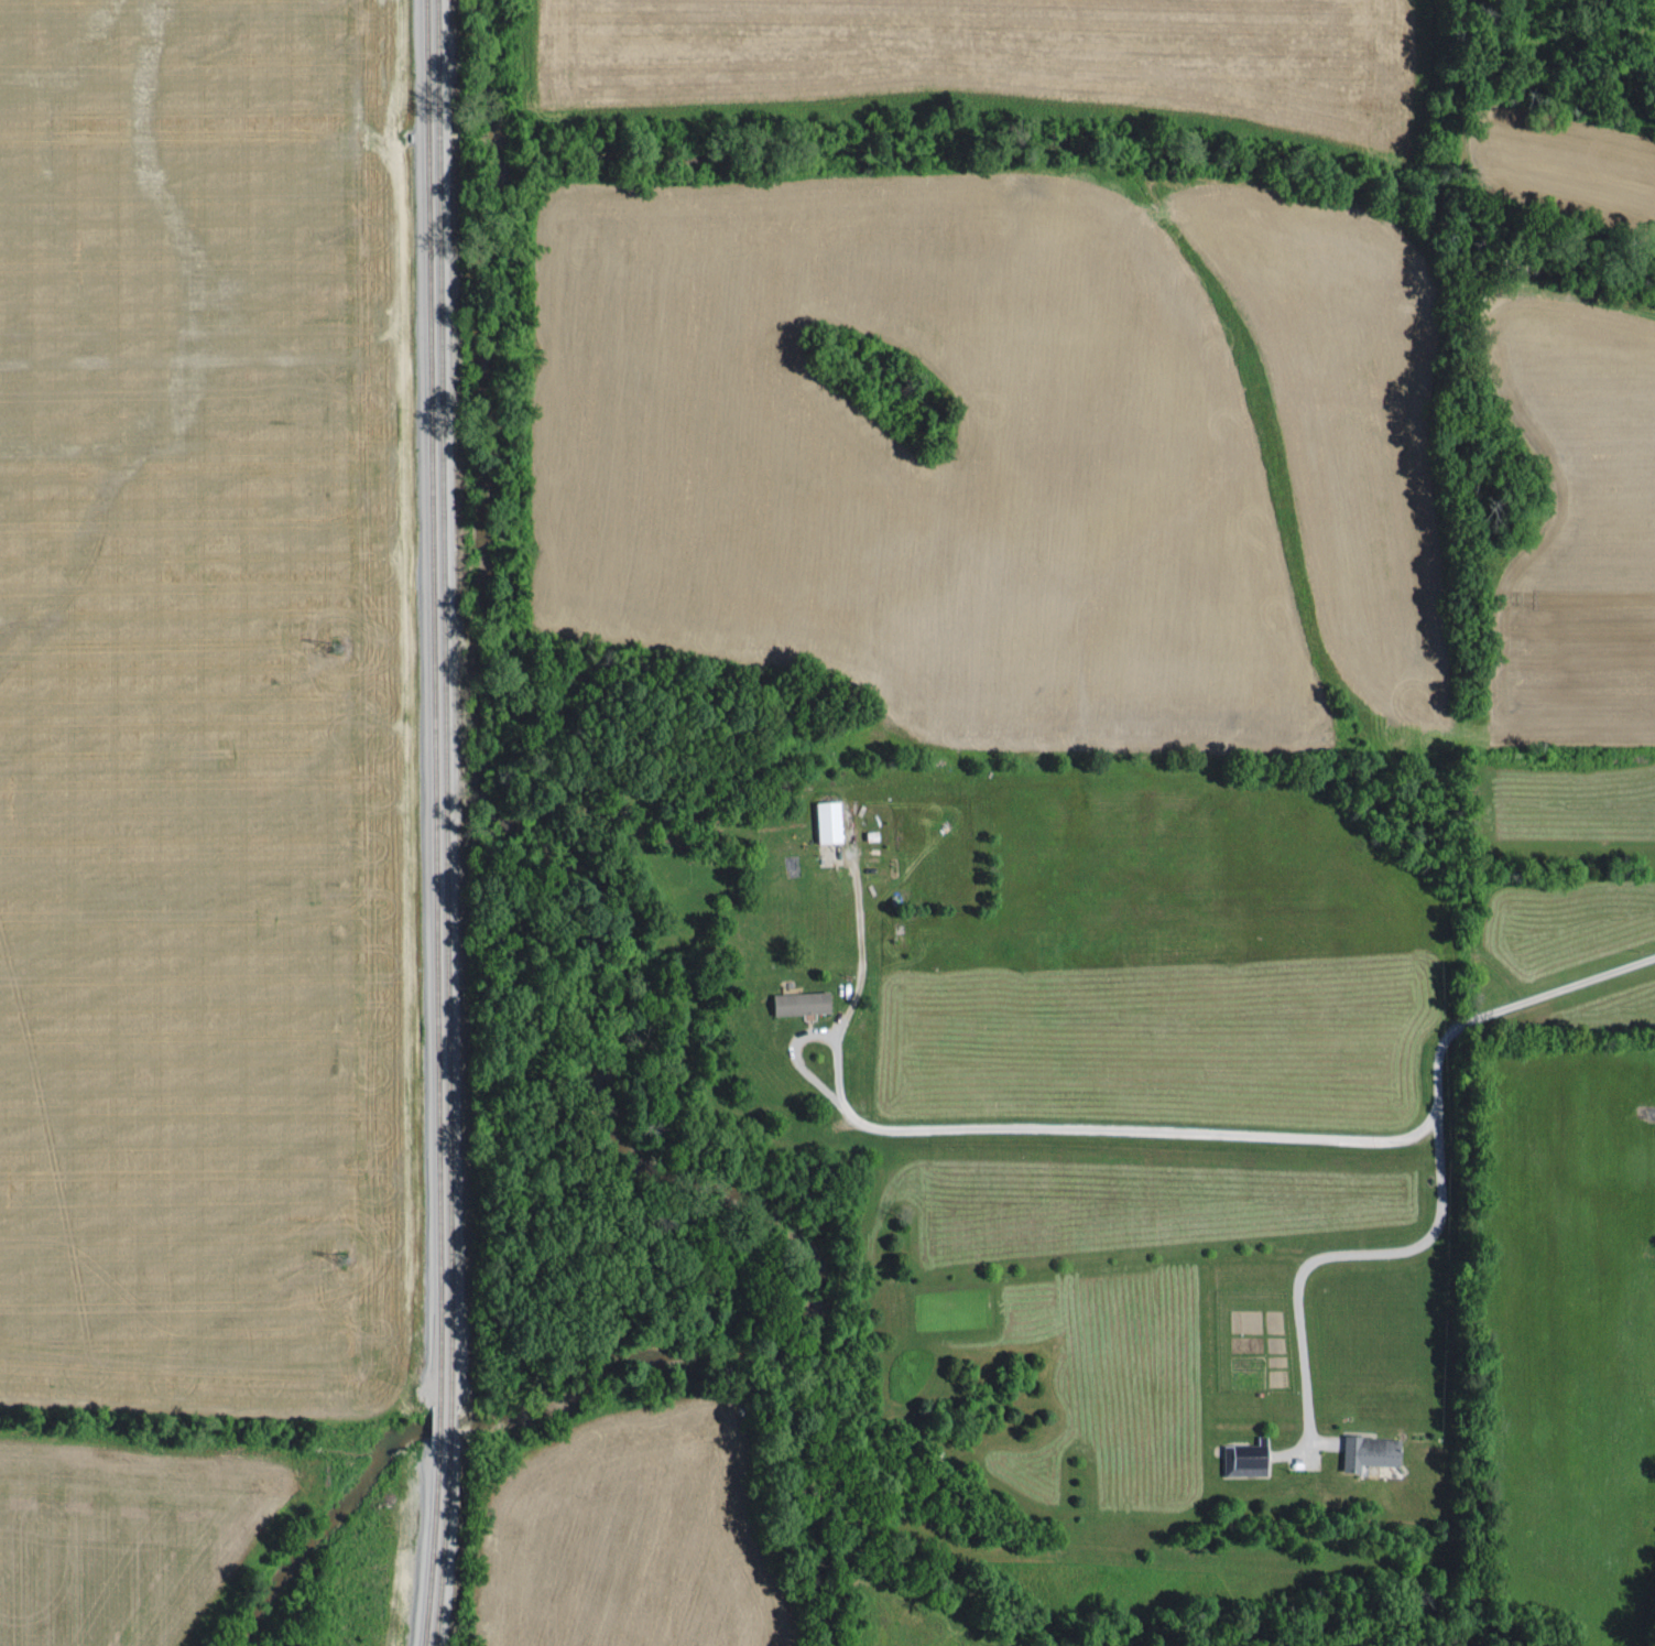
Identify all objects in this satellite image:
railway: (447, 704)
building: (821, 820)
building: (796, 1001)
railway: (450, 1425)
building: (1362, 1449)
building: (1241, 1455)
railway: (442, 1542)

